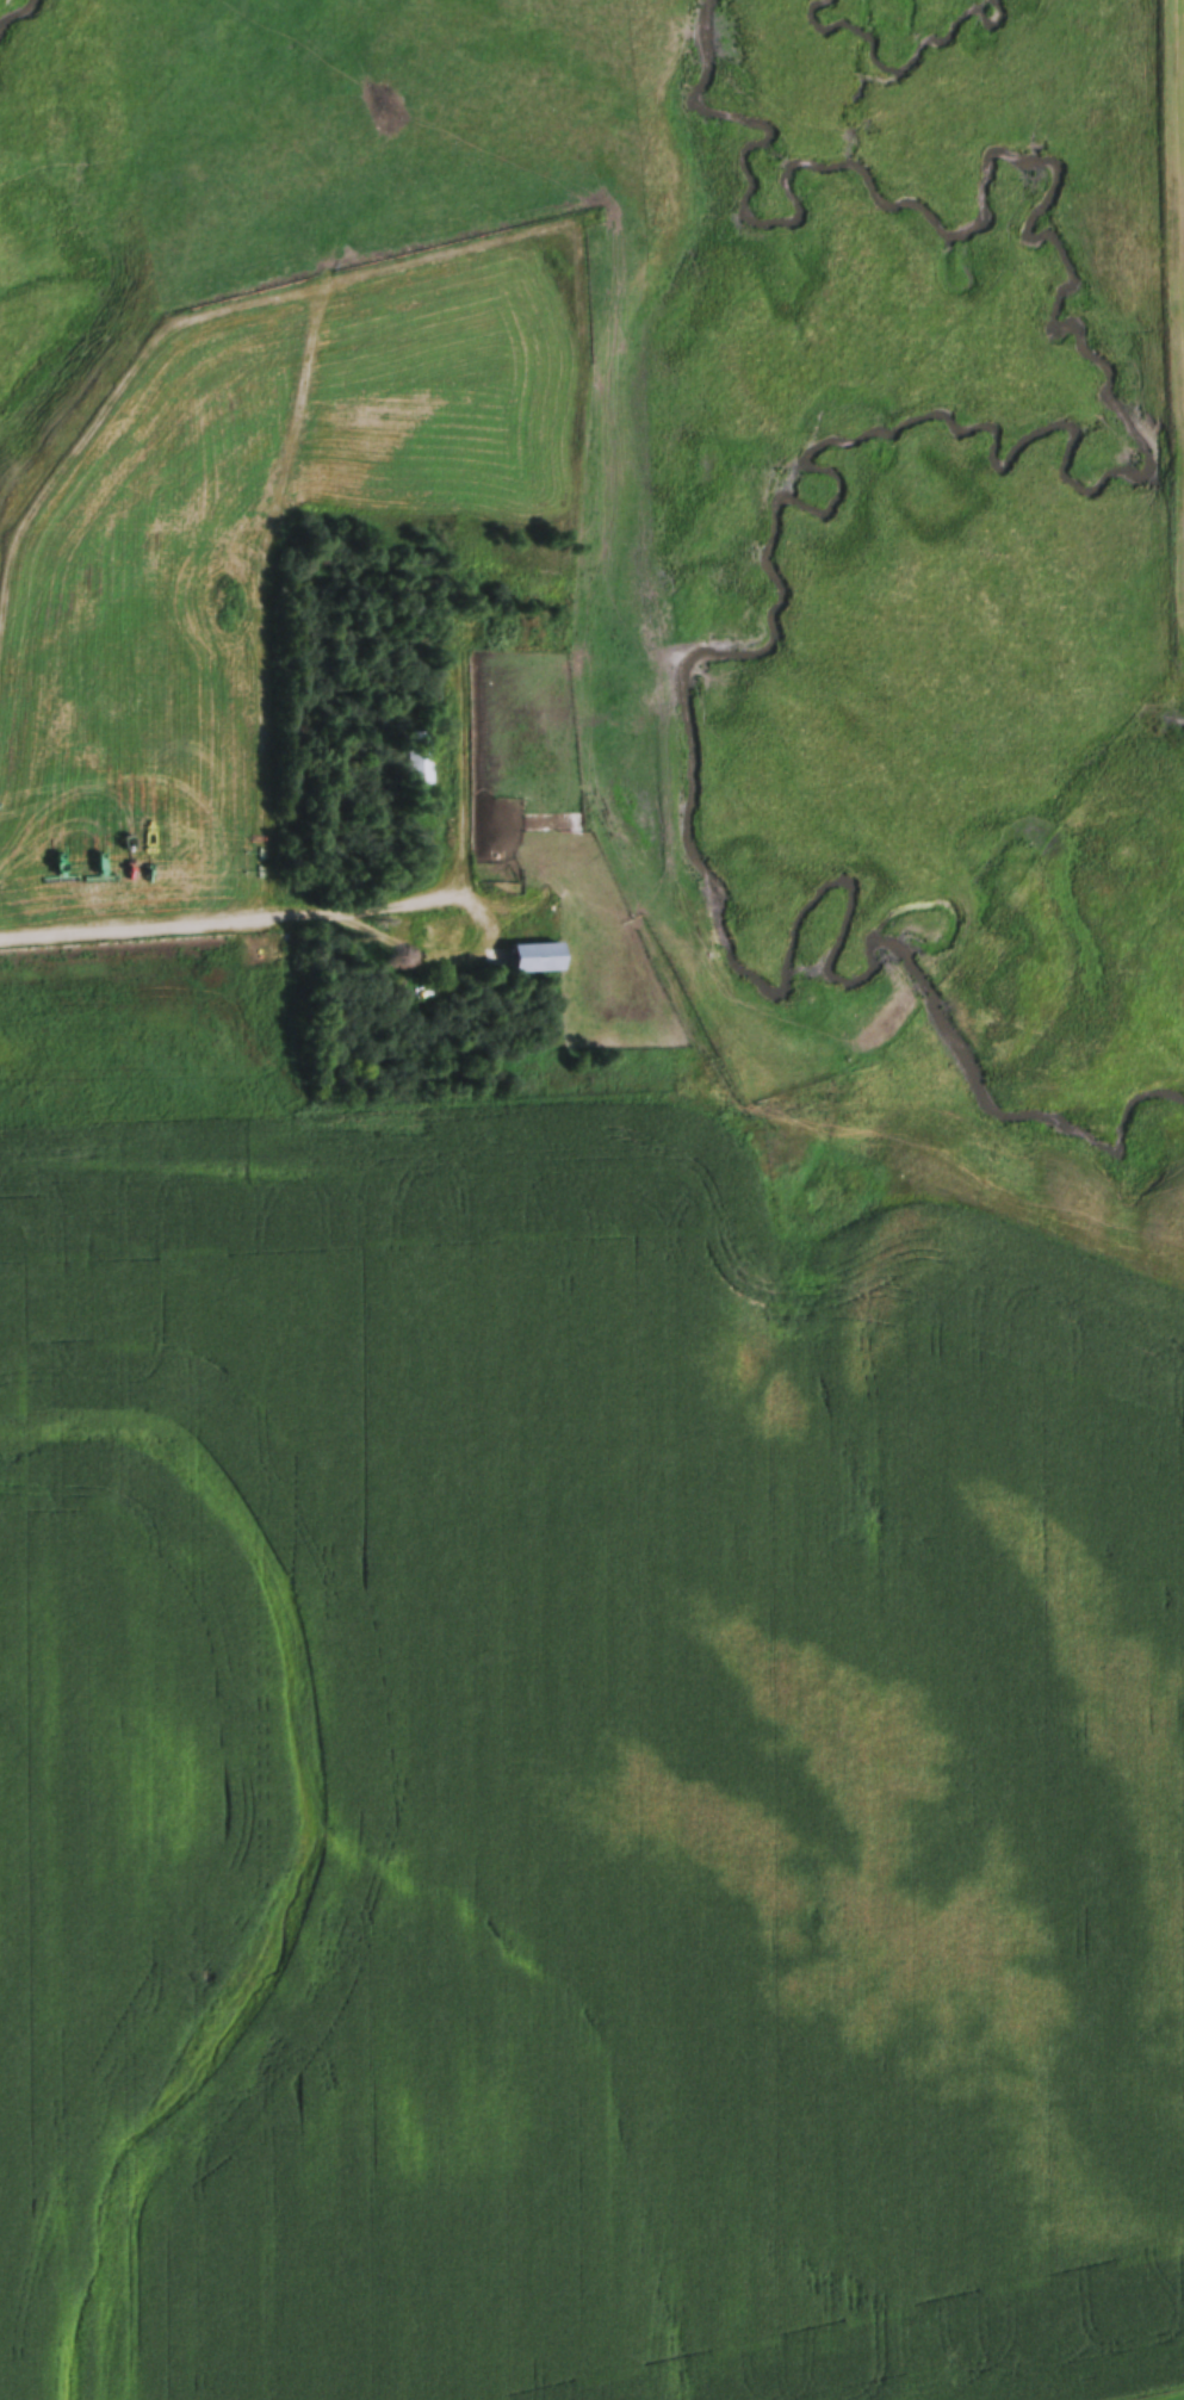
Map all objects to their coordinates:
building: (424, 768)
building: (539, 861)
road: (241, 919)
building: (440, 938)
building: (534, 959)

